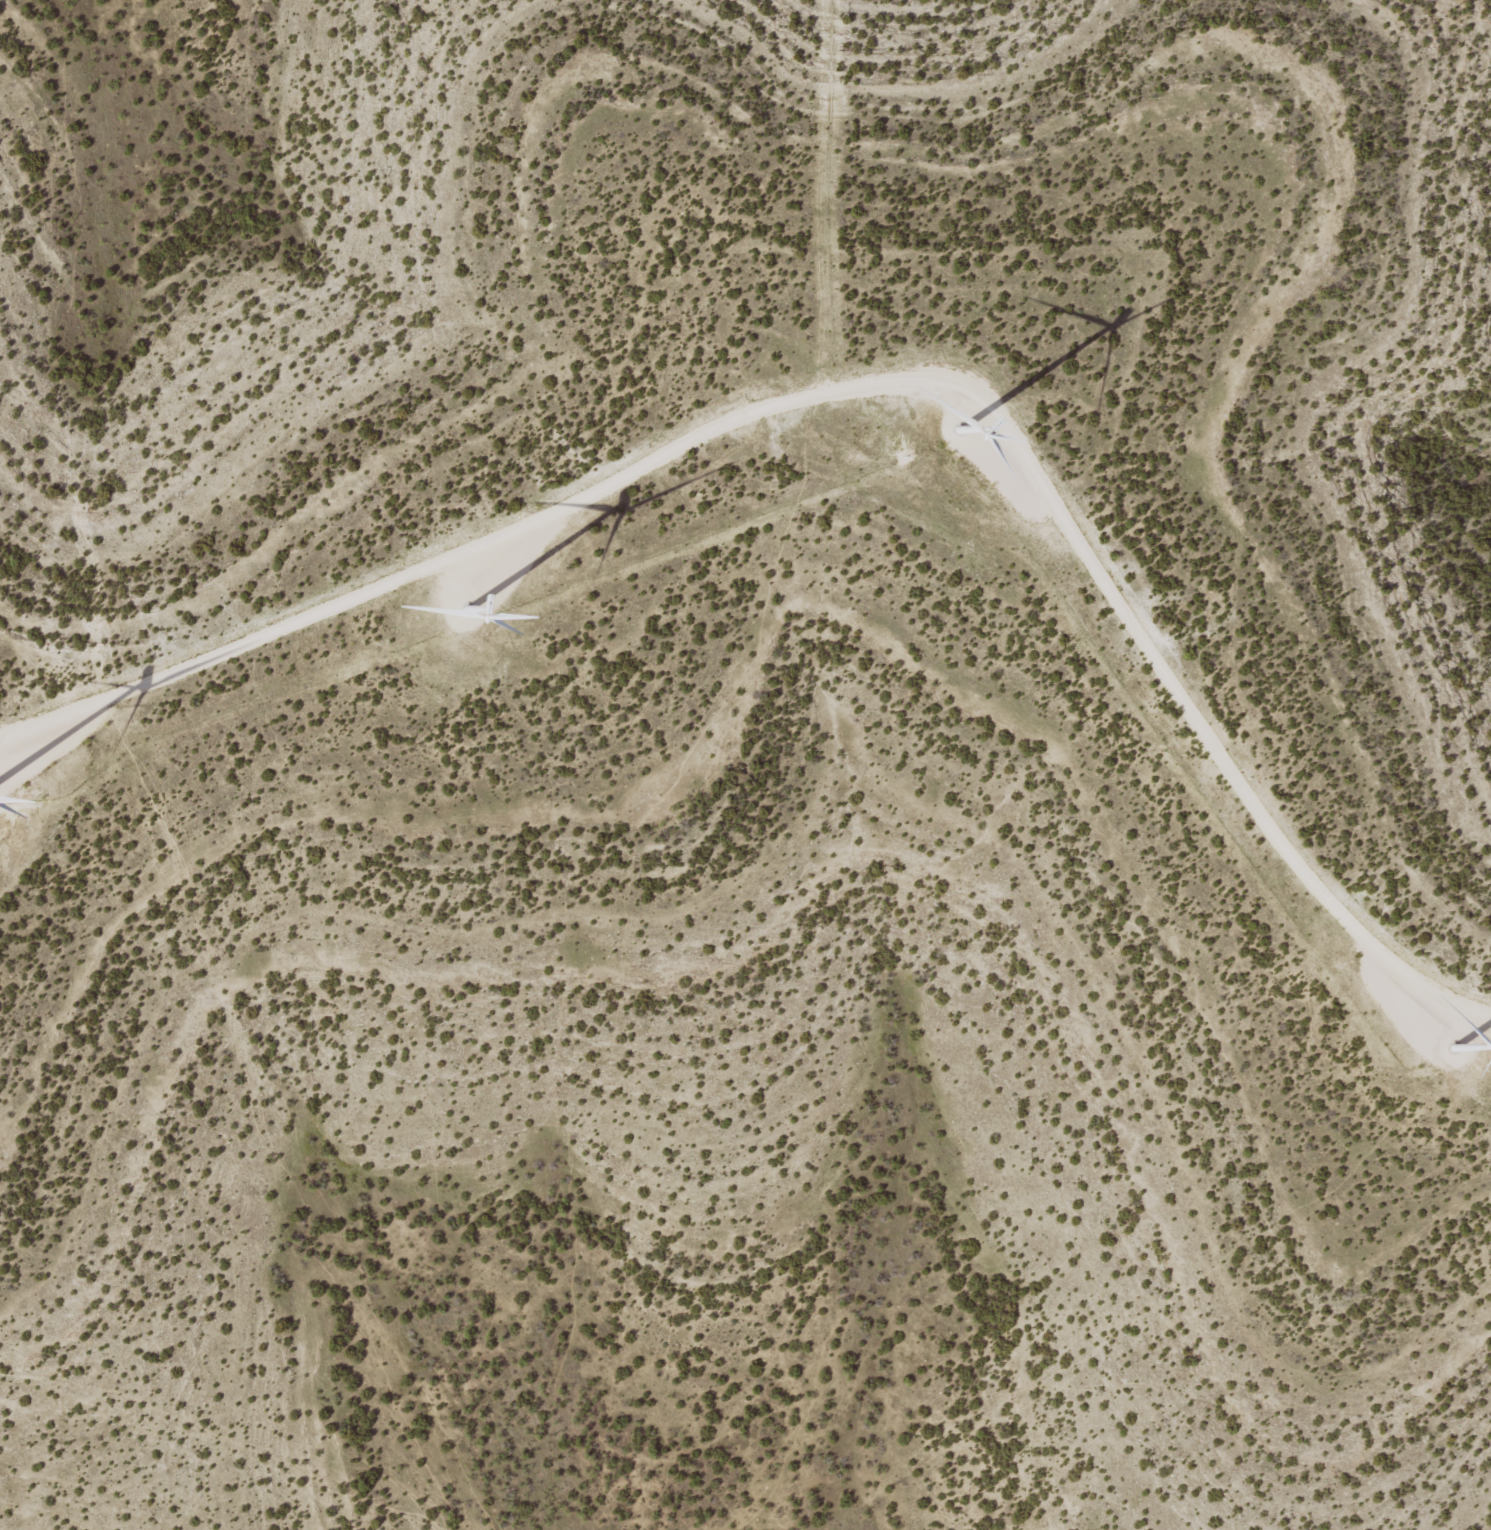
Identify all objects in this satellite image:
wind turbine: (930, 431)
wind turbine: (434, 647)
wind turbine: (1452, 1047)

